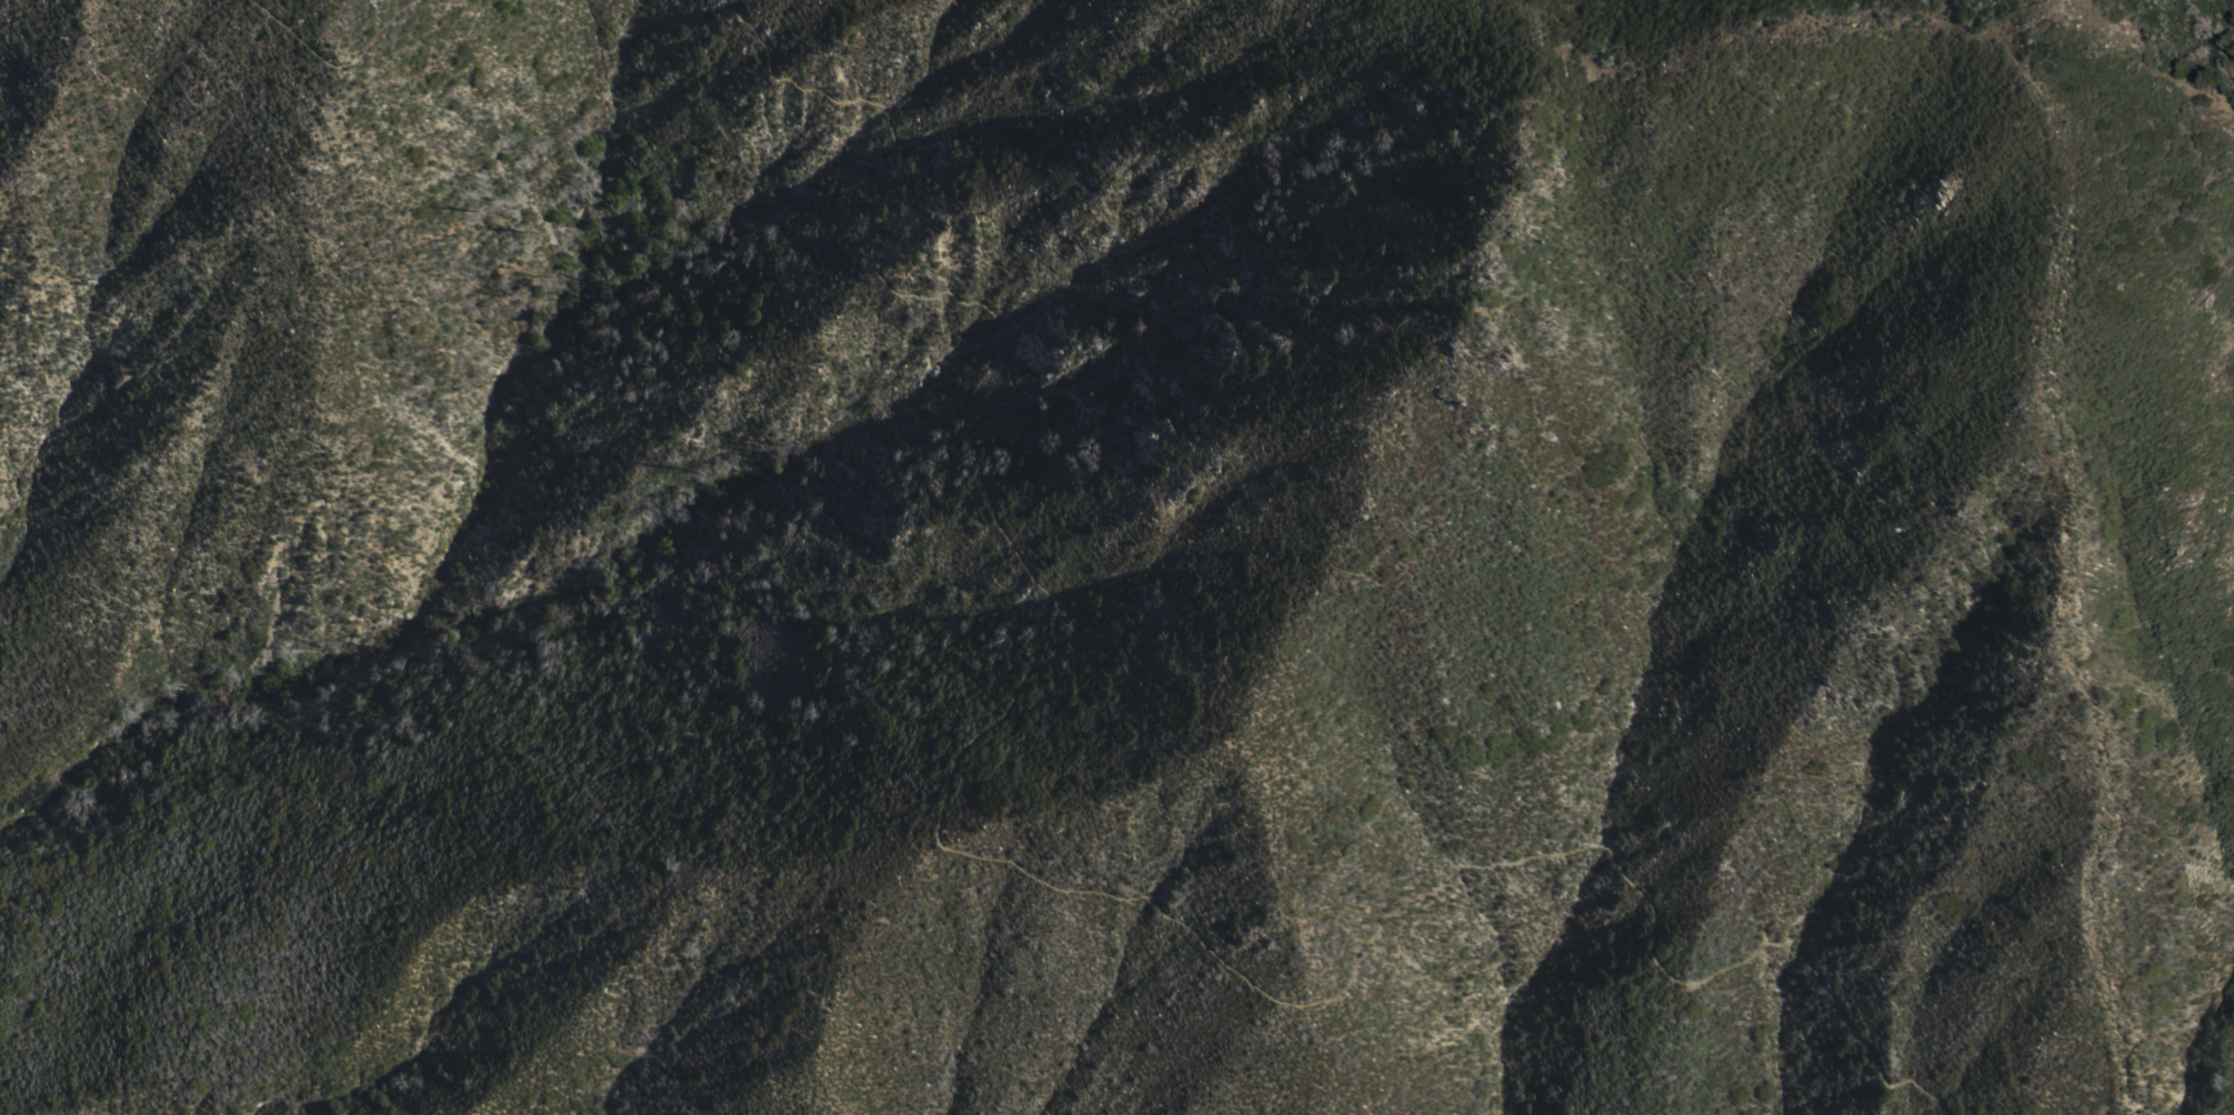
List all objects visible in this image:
road: (338, 58)
road: (1033, 872)

